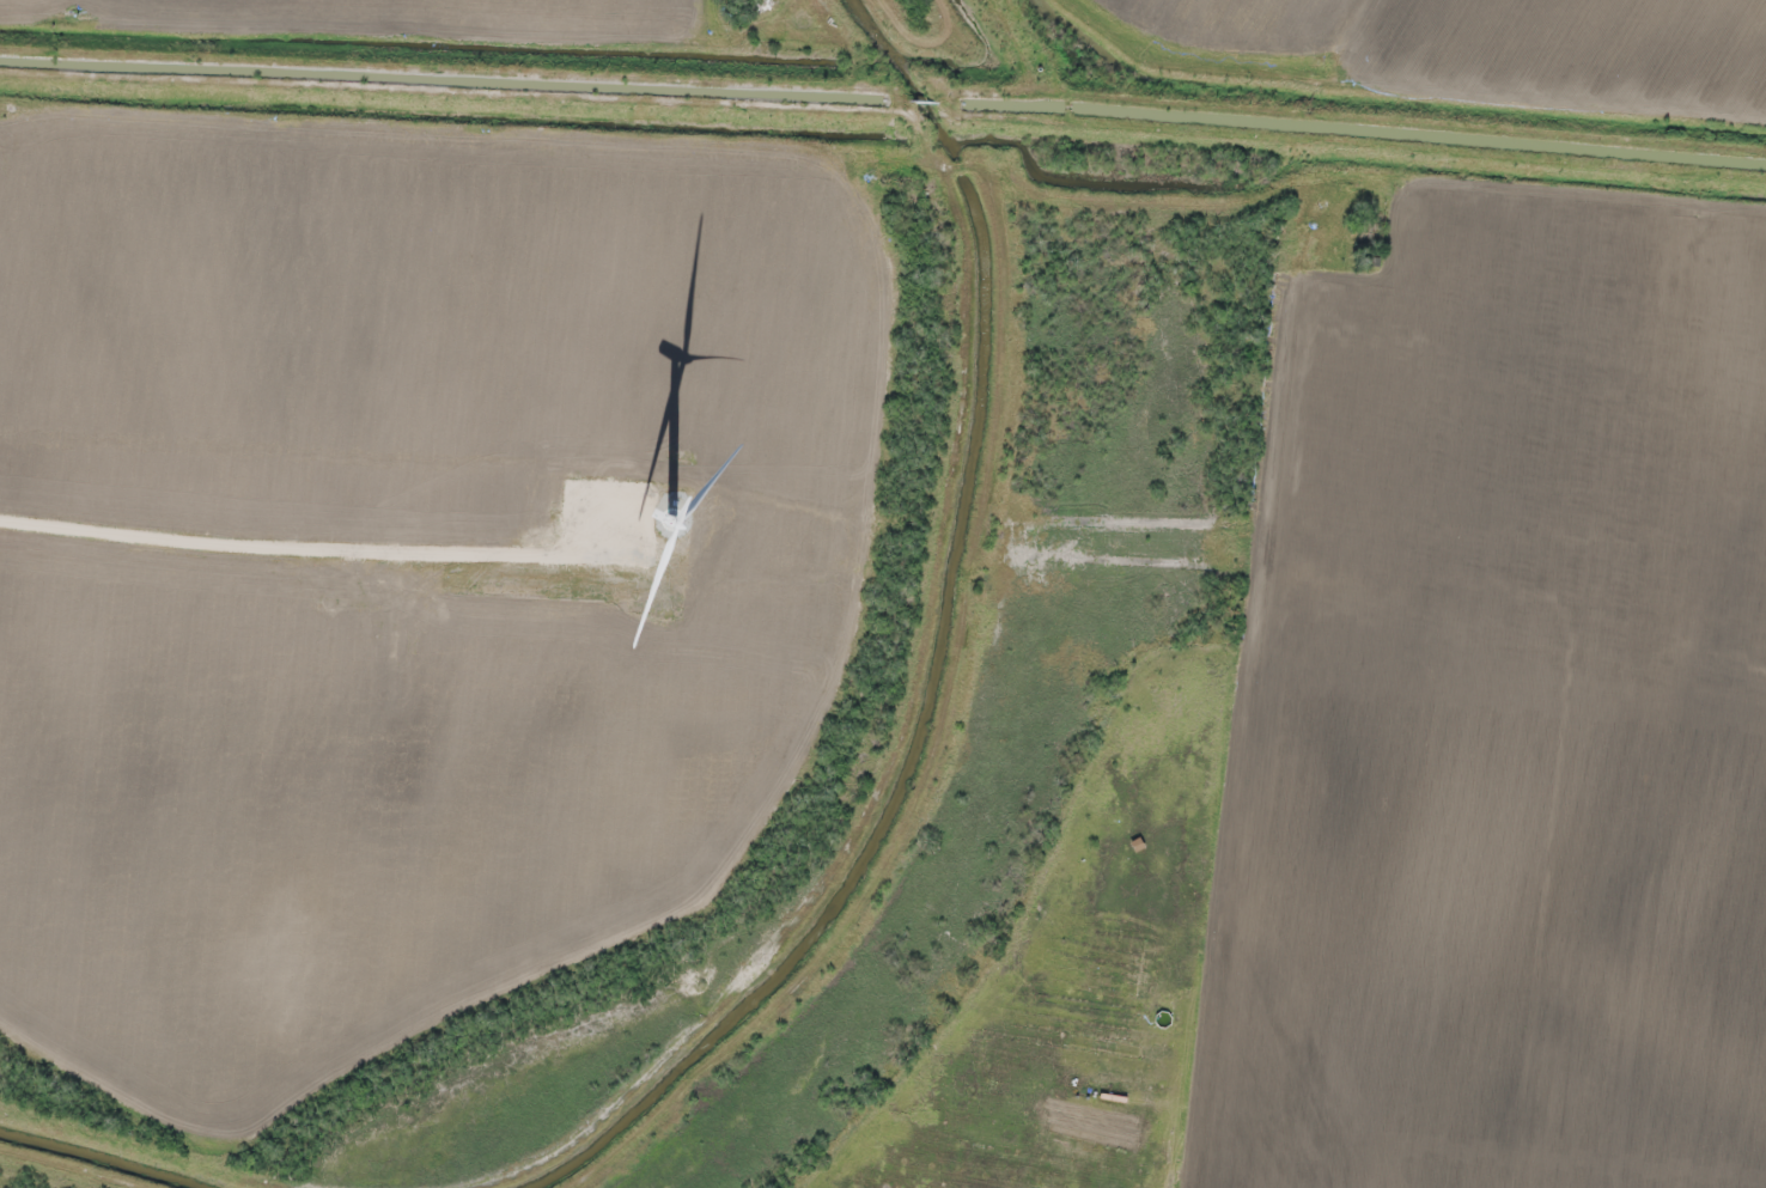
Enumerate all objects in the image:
wind turbine: (668, 532)

